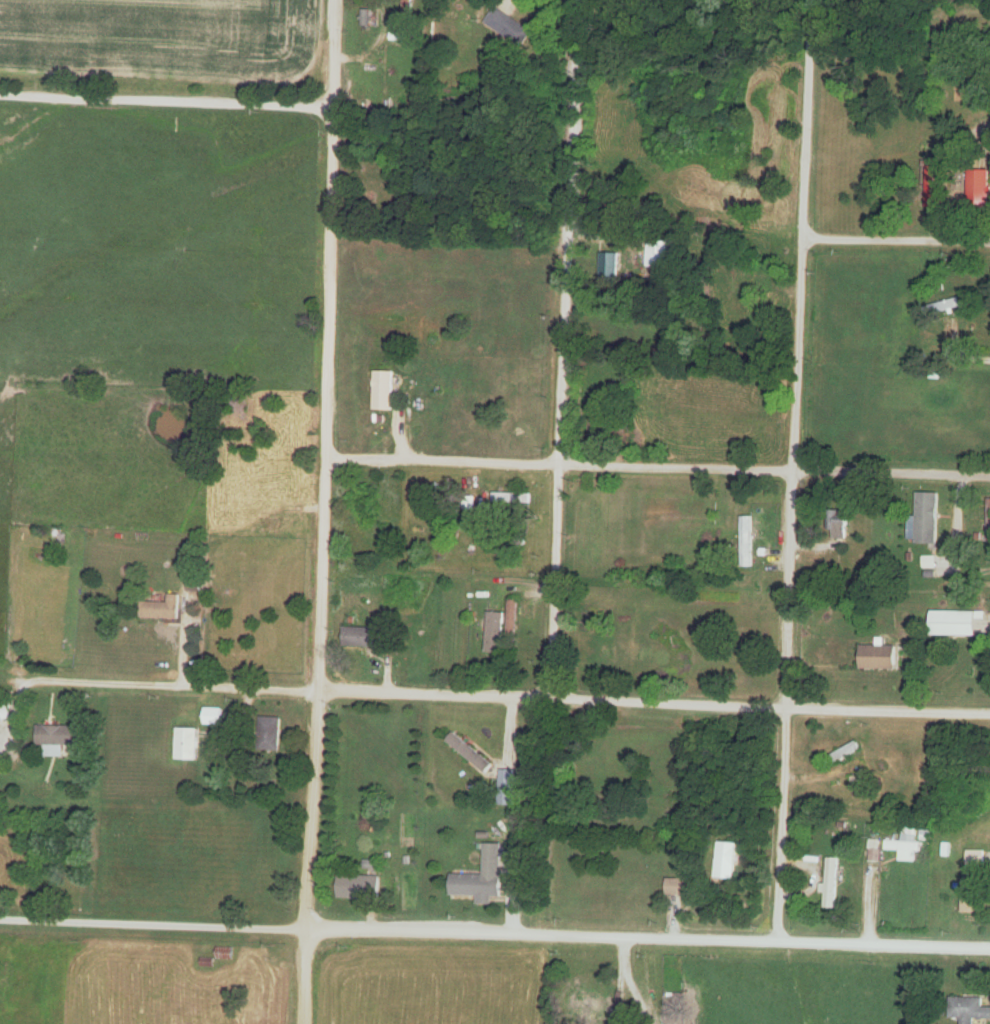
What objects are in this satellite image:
building: (365, 18)
building: (507, 27)
road: (165, 102)
building: (979, 187)
building: (933, 188)
road: (897, 238)
building: (656, 254)
building: (608, 267)
building: (941, 307)
road: (563, 348)
building: (382, 391)
building: (590, 422)
road: (323, 464)
road: (657, 468)
road: (797, 469)
building: (511, 500)
building: (987, 516)
building: (926, 518)
building: (837, 525)
building: (746, 542)
building: (681, 573)
building: (161, 610)
building: (512, 622)
building: (954, 624)
building: (494, 632)
building: (362, 637)
building: (879, 658)
road: (185, 684)
road: (652, 702)
building: (4, 713)
building: (213, 717)
building: (270, 734)
building: (58, 735)
building: (187, 744)
building: (469, 753)
building: (842, 754)
building: (507, 787)
building: (906, 845)
building: (972, 857)
building: (725, 861)
building: (482, 879)
building: (830, 883)
building: (360, 887)
building: (679, 887)
building: (970, 897)
road: (867, 898)
road: (390, 930)
road: (885, 944)
road: (305, 976)
building: (587, 1008)
building: (967, 1009)

